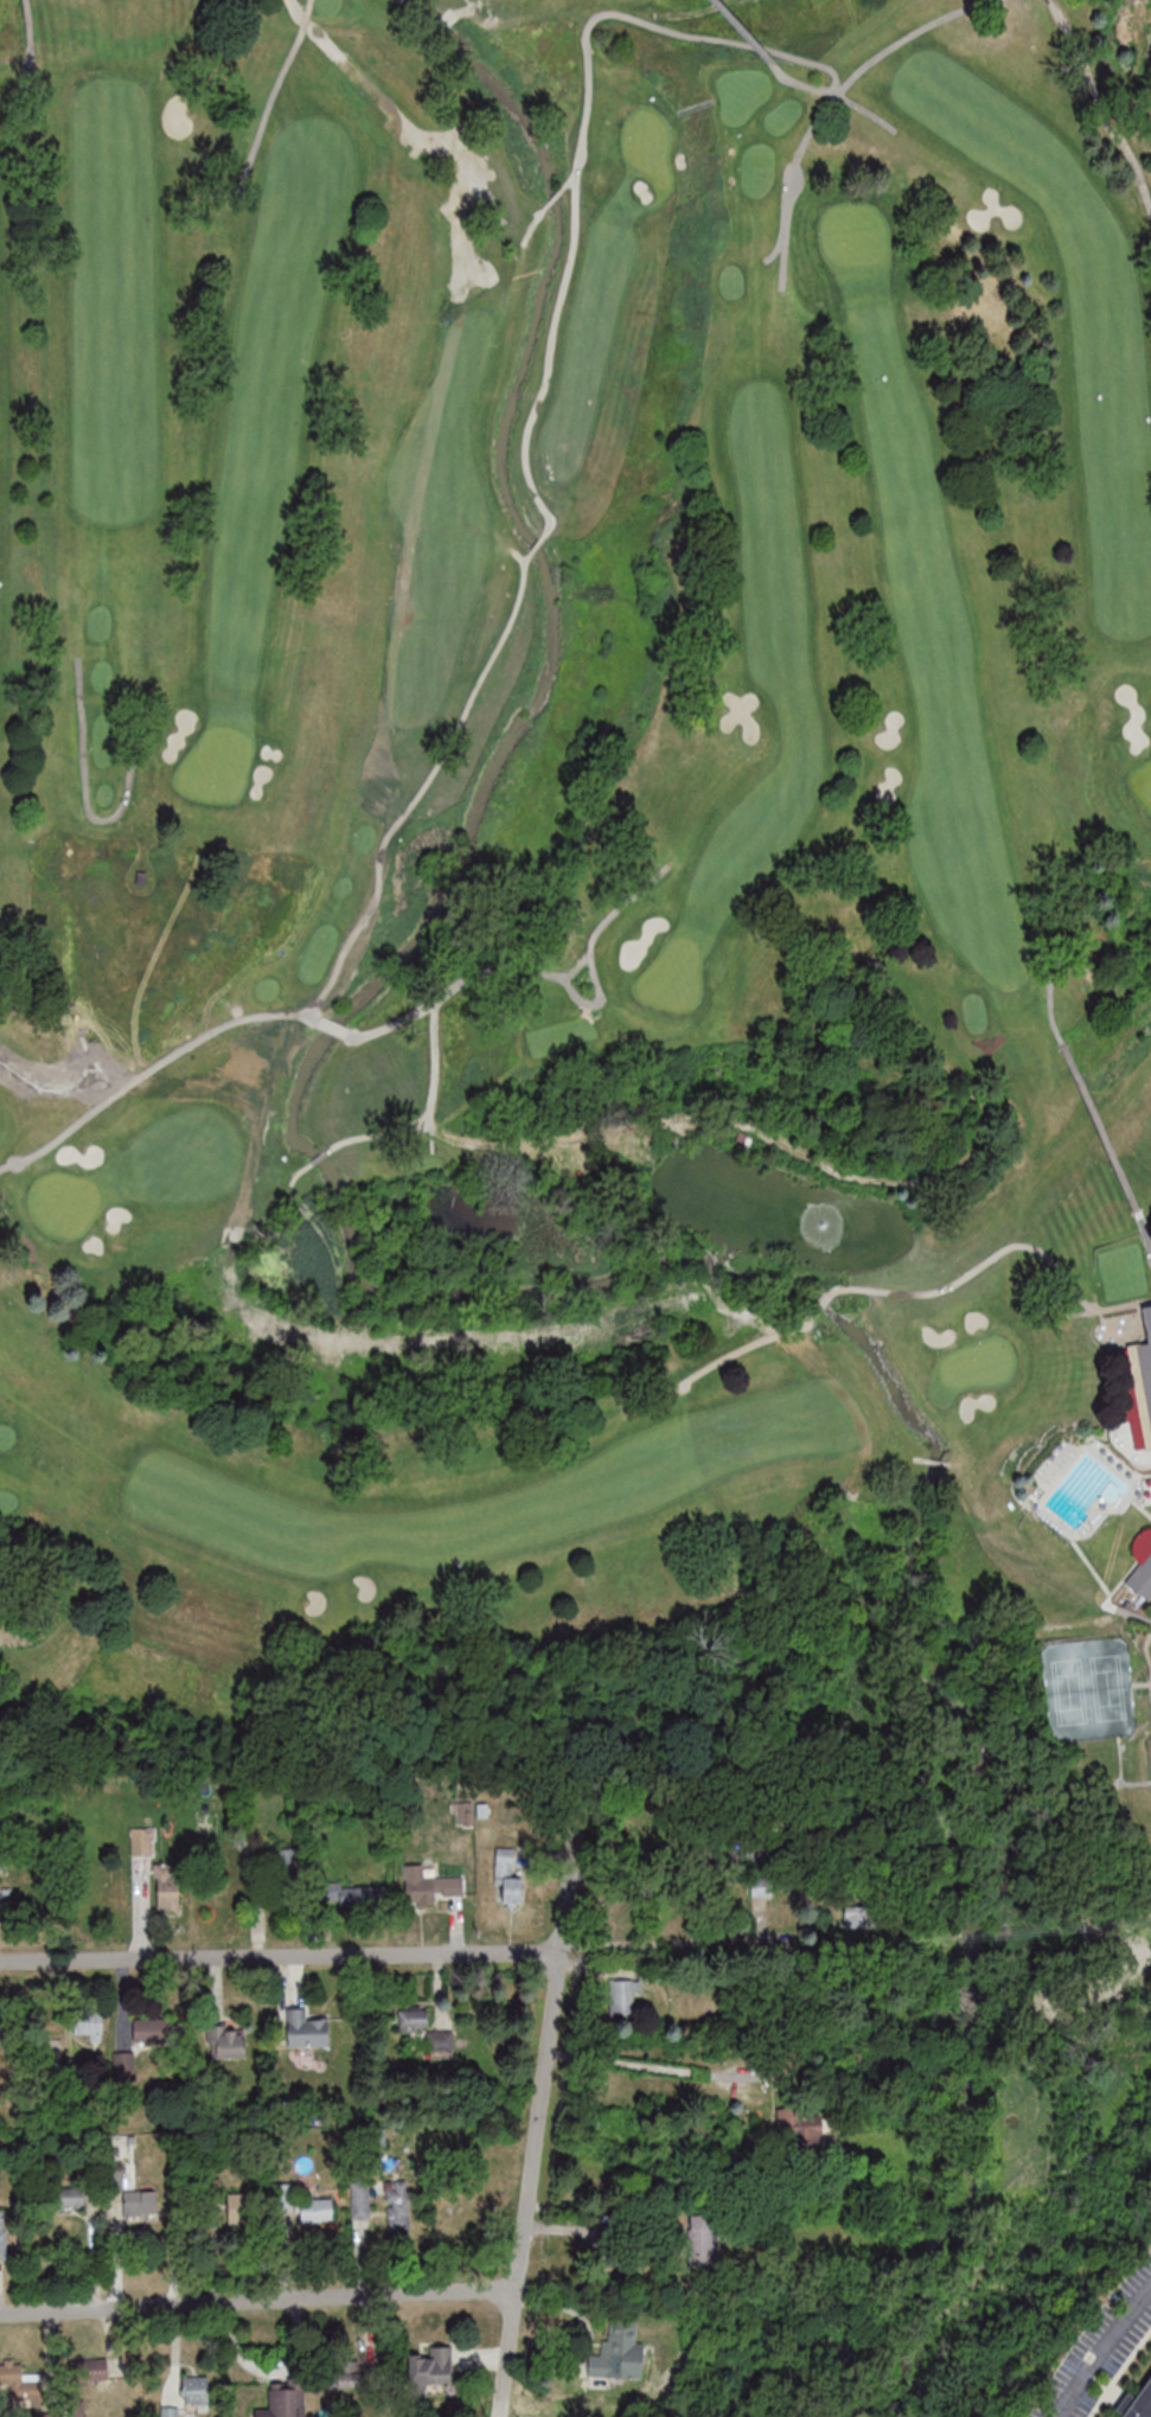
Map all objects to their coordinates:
park: (582, 895)
river: (525, 1300)
building: (1144, 1370)
building: (1142, 1565)
park: (1086, 1689)
park: (1149, 1752)
building: (142, 1840)
road: (663, 1860)
building: (276, 1861)
building: (2, 1866)
building: (507, 1875)
building: (415, 1882)
building: (166, 1886)
building: (6, 1900)
road: (654, 1940)
road: (280, 1956)
building: (621, 1999)
building: (89, 2025)
building: (423, 2027)
building: (306, 2028)
building: (149, 2029)
building: (228, 2041)
building: (50, 2051)
building: (123, 2060)
road: (648, 2065)
building: (801, 2130)
road: (536, 2131)
building: (283, 2198)
building: (68, 2199)
building: (360, 2200)
building: (139, 2204)
building: (398, 2206)
building: (239, 2208)
building: (315, 2211)
building: (2, 2234)
building: (701, 2240)
road: (609, 2247)
road: (256, 2300)
road: (1100, 2347)
building: (618, 2352)
building: (429, 2368)
building: (90, 2370)
building: (341, 2373)
building: (21, 2384)
building: (194, 2389)
building: (284, 2399)
building: (1140, 2402)
building: (168, 2412)

